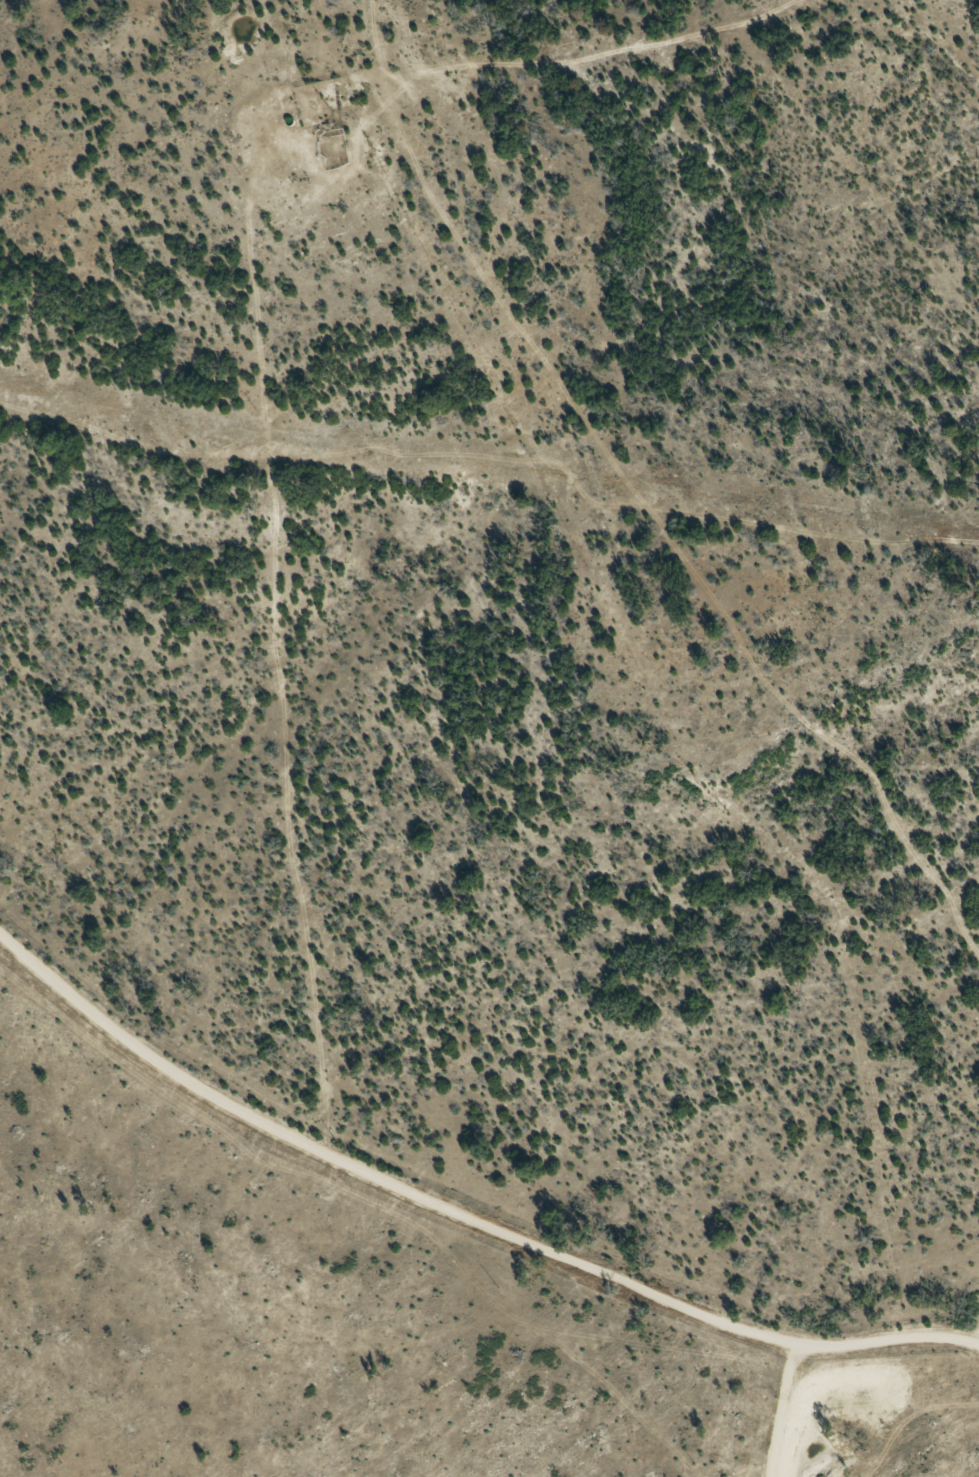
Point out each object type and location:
road: (304, 652)
road: (458, 1251)
road: (798, 1436)

